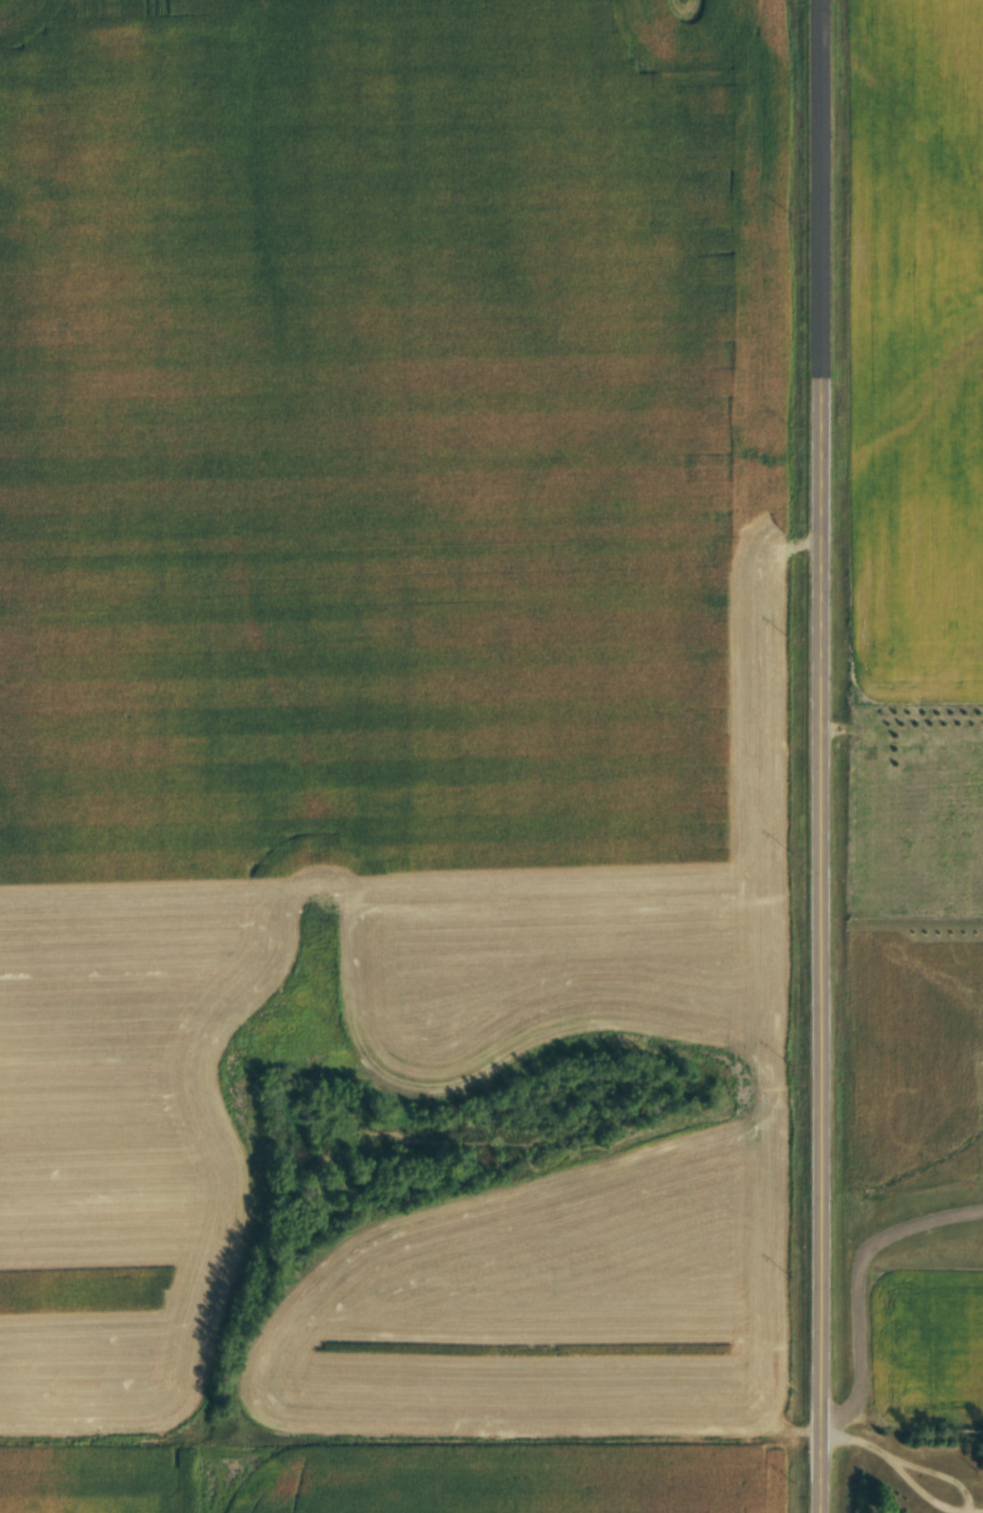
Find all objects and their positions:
road: (812, 756)
road: (858, 1286)
road: (925, 1499)

